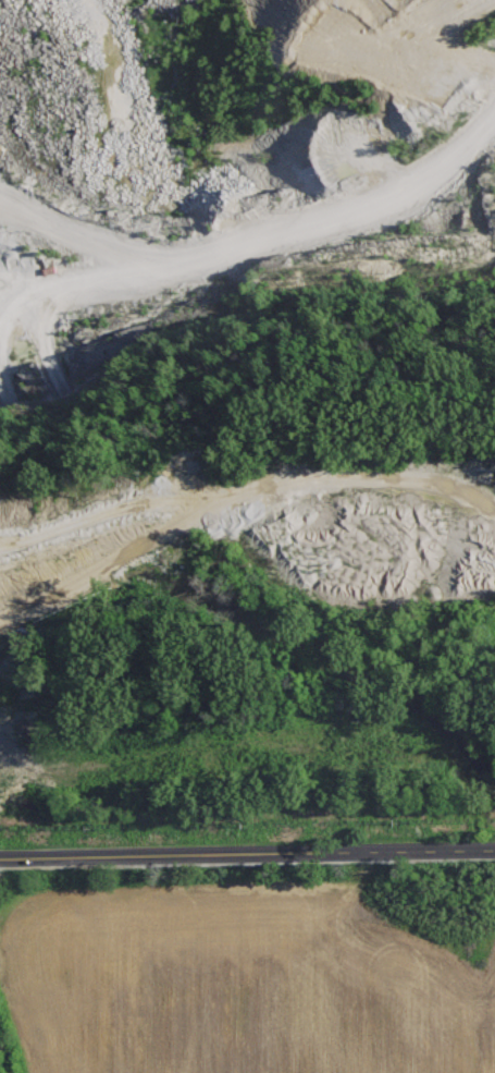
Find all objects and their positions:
road: (492, 121)
road: (260, 232)
road: (95, 279)
quarry: (247, 427)
road: (249, 493)
road: (113, 572)
road: (247, 853)

